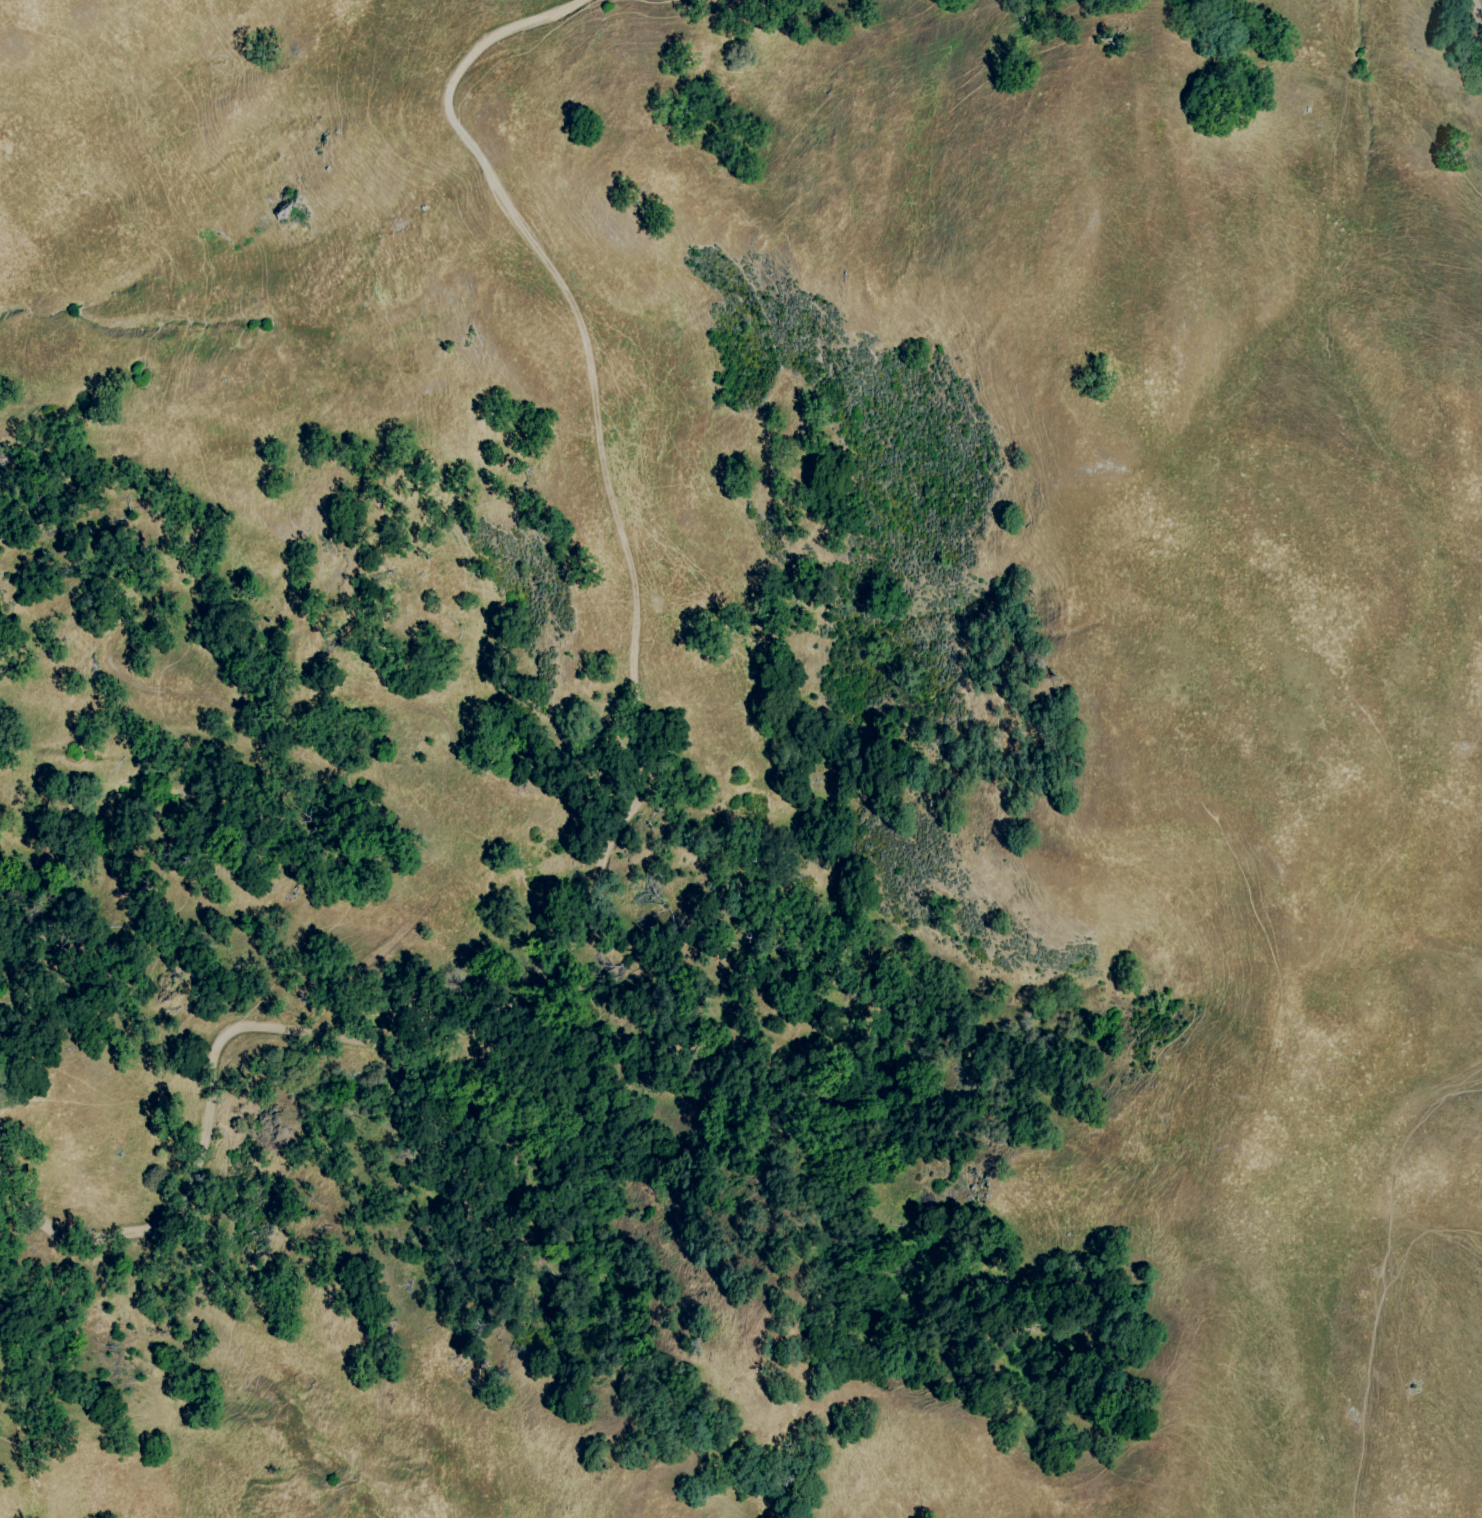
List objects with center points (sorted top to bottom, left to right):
road: (1476, 13)
road: (626, 813)

